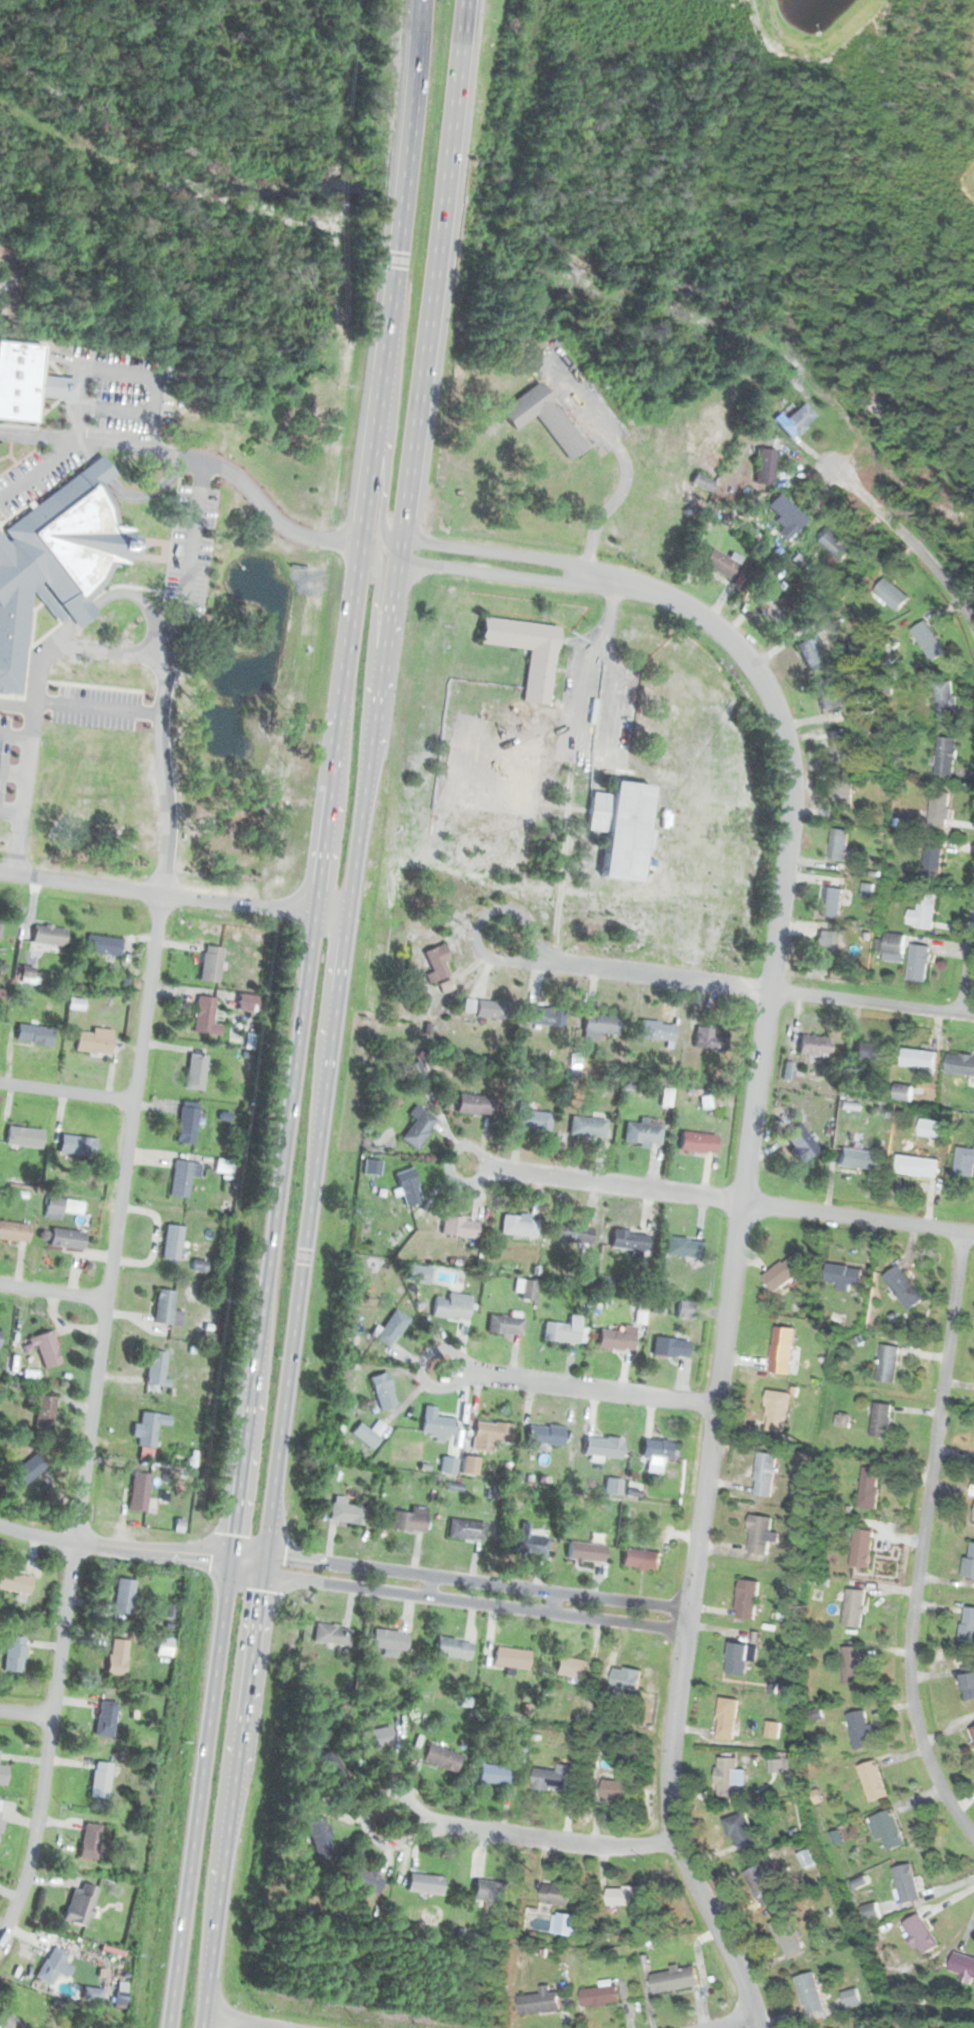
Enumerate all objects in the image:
road: (461, 56)
road: (396, 273)
road: (429, 325)
road: (122, 371)
building: (20, 380)
road: (118, 408)
building: (794, 418)
building: (544, 419)
road: (193, 456)
road: (624, 459)
building: (764, 464)
road: (36, 470)
road: (386, 481)
road: (131, 496)
building: (784, 513)
building: (75, 538)
building: (832, 542)
road: (912, 543)
road: (192, 551)
road: (496, 551)
building: (720, 562)
road: (492, 572)
building: (890, 593)
road: (116, 595)
building: (768, 603)
building: (18, 611)
road: (373, 624)
building: (926, 639)
building: (808, 646)
building: (537, 677)
building: (830, 693)
building: (943, 697)
road: (18, 705)
road: (100, 707)
road: (164, 717)
road: (338, 730)
road: (16, 736)
building: (839, 746)
road: (576, 747)
building: (944, 756)
road: (29, 758)
building: (526, 761)
road: (14, 772)
building: (843, 798)
building: (939, 809)
road: (11, 811)
building: (622, 829)
building: (838, 844)
building: (932, 862)
road: (173, 895)
building: (830, 902)
building: (922, 909)
building: (0, 930)
building: (49, 936)
building: (893, 945)
building: (103, 946)
building: (822, 947)
building: (918, 961)
road: (966, 961)
building: (210, 964)
building: (435, 965)
road: (637, 974)
road: (871, 1002)
building: (492, 1010)
building: (204, 1018)
building: (545, 1018)
building: (601, 1025)
building: (655, 1031)
building: (34, 1035)
building: (708, 1040)
building: (94, 1042)
building: (812, 1044)
building: (870, 1052)
building: (917, 1057)
building: (959, 1063)
building: (414, 1071)
building: (195, 1072)
road: (66, 1092)
building: (474, 1105)
building: (533, 1121)
building: (186, 1126)
building: (586, 1127)
building: (927, 1127)
building: (417, 1130)
building: (641, 1133)
building: (24, 1138)
building: (797, 1139)
building: (696, 1143)
building: (77, 1147)
building: (856, 1157)
building: (964, 1160)
building: (915, 1165)
building: (182, 1178)
road: (595, 1182)
building: (408, 1188)
building: (60, 1207)
road: (857, 1217)
building: (517, 1226)
building: (459, 1228)
building: (13, 1232)
building: (574, 1233)
building: (66, 1239)
building: (171, 1242)
building: (629, 1242)
building: (684, 1248)
road: (734, 1254)
building: (783, 1270)
building: (842, 1274)
building: (413, 1275)
road: (300, 1282)
building: (902, 1286)
building: (527, 1291)
road: (53, 1292)
building: (163, 1307)
building: (452, 1307)
building: (685, 1310)
building: (504, 1326)
building: (391, 1328)
building: (561, 1331)
building: (616, 1340)
building: (670, 1349)
building: (780, 1349)
building: (45, 1351)
building: (886, 1362)
building: (155, 1369)
road: (578, 1385)
building: (382, 1392)
building: (777, 1409)
building: (44, 1414)
road: (91, 1417)
building: (879, 1419)
building: (435, 1424)
building: (149, 1430)
building: (489, 1436)
building: (543, 1436)
building: (364, 1437)
building: (603, 1448)
building: (660, 1454)
building: (26, 1470)
road: (241, 1471)
building: (763, 1474)
building: (867, 1489)
building: (971, 1489)
building: (138, 1493)
building: (347, 1515)
building: (973, 1515)
building: (408, 1521)
building: (466, 1531)
building: (758, 1534)
road: (919, 1542)
building: (530, 1544)
road: (114, 1547)
building: (859, 1547)
building: (586, 1553)
traffic signals: (230, 1559)
building: (642, 1560)
building: (968, 1561)
traffic signals: (262, 1573)
road: (457, 1578)
building: (15, 1584)
road: (431, 1585)
building: (123, 1597)
road: (455, 1598)
building: (745, 1598)
road: (553, 1601)
building: (851, 1606)
building: (966, 1626)
building: (331, 1636)
building: (389, 1641)
building: (163, 1647)
building: (452, 1649)
building: (13, 1655)
building: (117, 1658)
building: (511, 1658)
building: (738, 1658)
building: (850, 1664)
building: (570, 1668)
building: (626, 1679)
building: (967, 1685)
road: (25, 1712)
building: (725, 1718)
building: (105, 1720)
building: (770, 1728)
building: (857, 1728)
building: (971, 1733)
building: (375, 1739)
building: (442, 1759)
building: (333, 1773)
building: (2, 1775)
building: (496, 1776)
building: (724, 1777)
building: (551, 1780)
building: (870, 1780)
building: (101, 1781)
building: (618, 1792)
building: (1, 1810)
building: (885, 1830)
building: (738, 1831)
road: (533, 1837)
building: (320, 1841)
building: (89, 1843)
building: (363, 1882)
building: (903, 1882)
building: (759, 1884)
building: (425, 1885)
building: (492, 1892)
building: (557, 1896)
building: (625, 1898)
building: (79, 1906)
building: (565, 1926)
building: (917, 1934)
building: (785, 1938)
building: (960, 1965)
building: (49, 1966)
building: (674, 1980)
building: (808, 1992)
building: (849, 1997)
building: (600, 1998)
building: (540, 2003)
building: (7, 2021)
road: (233, 2022)
road: (734, 2022)

